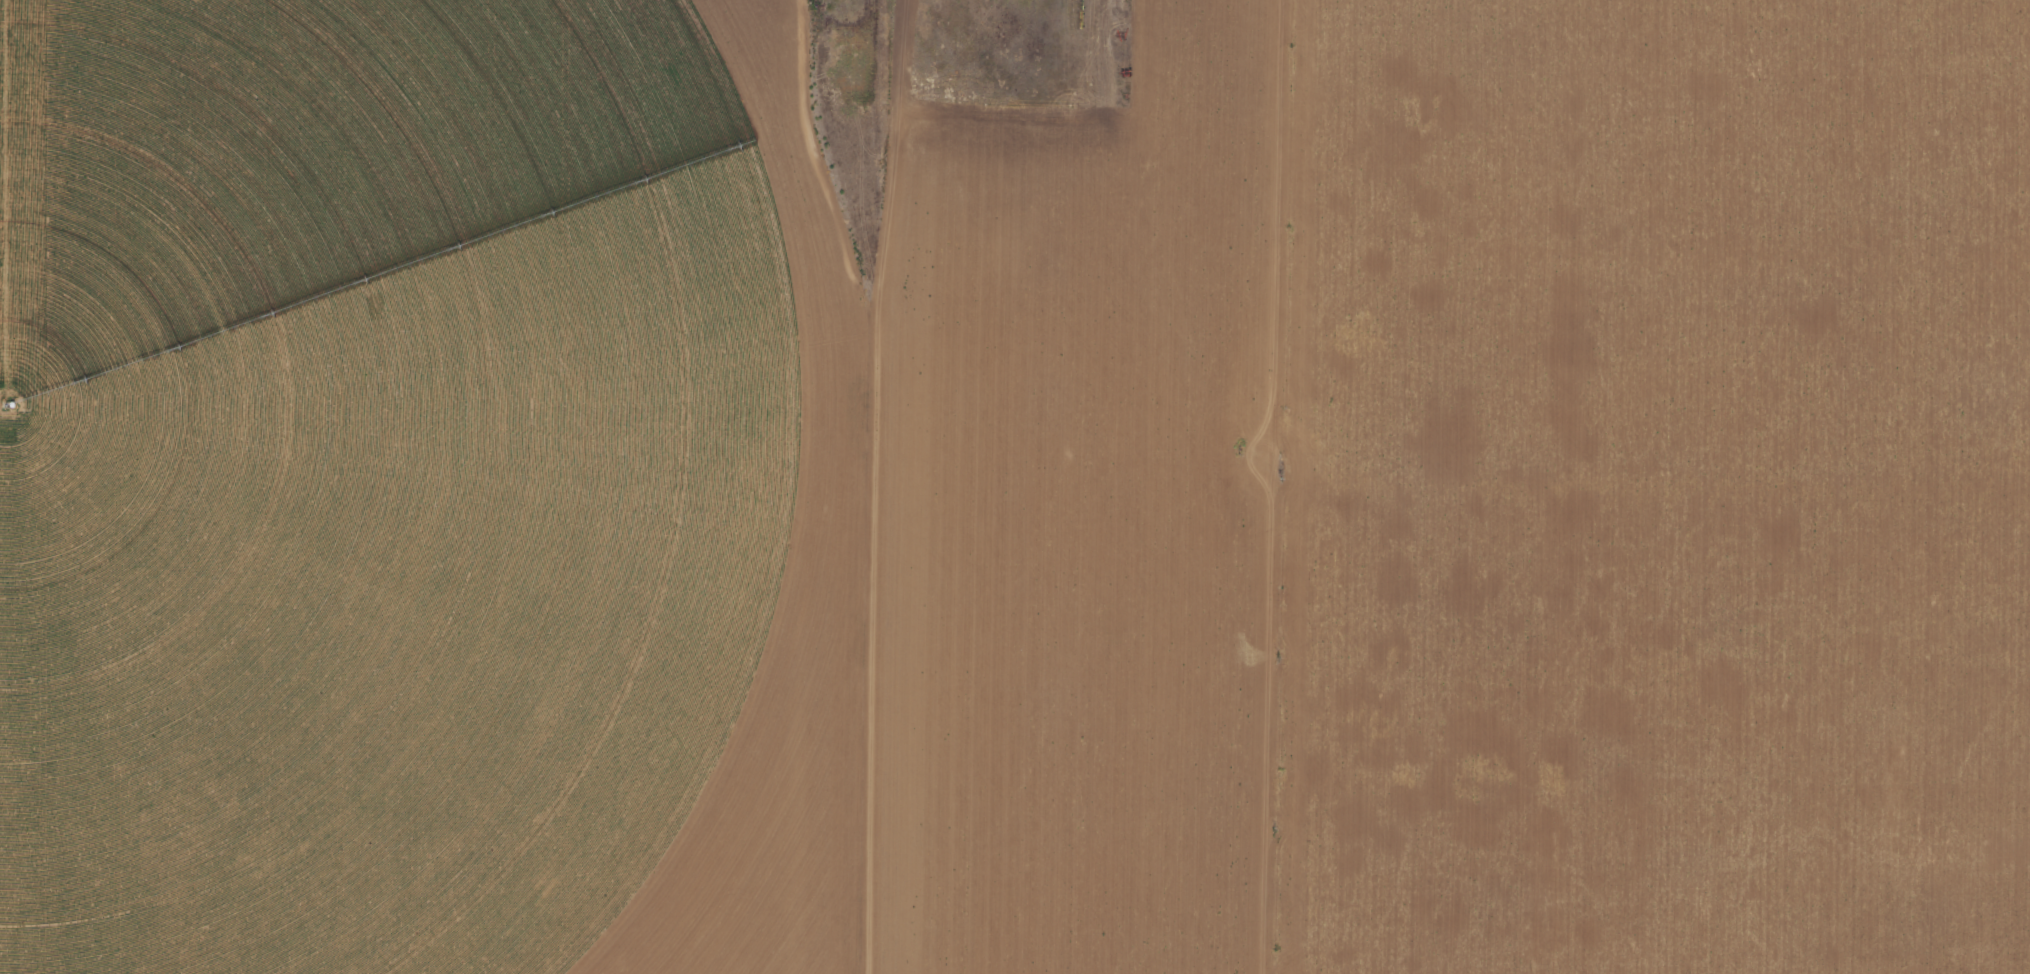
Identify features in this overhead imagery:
road: (1277, 203)
road: (837, 479)

